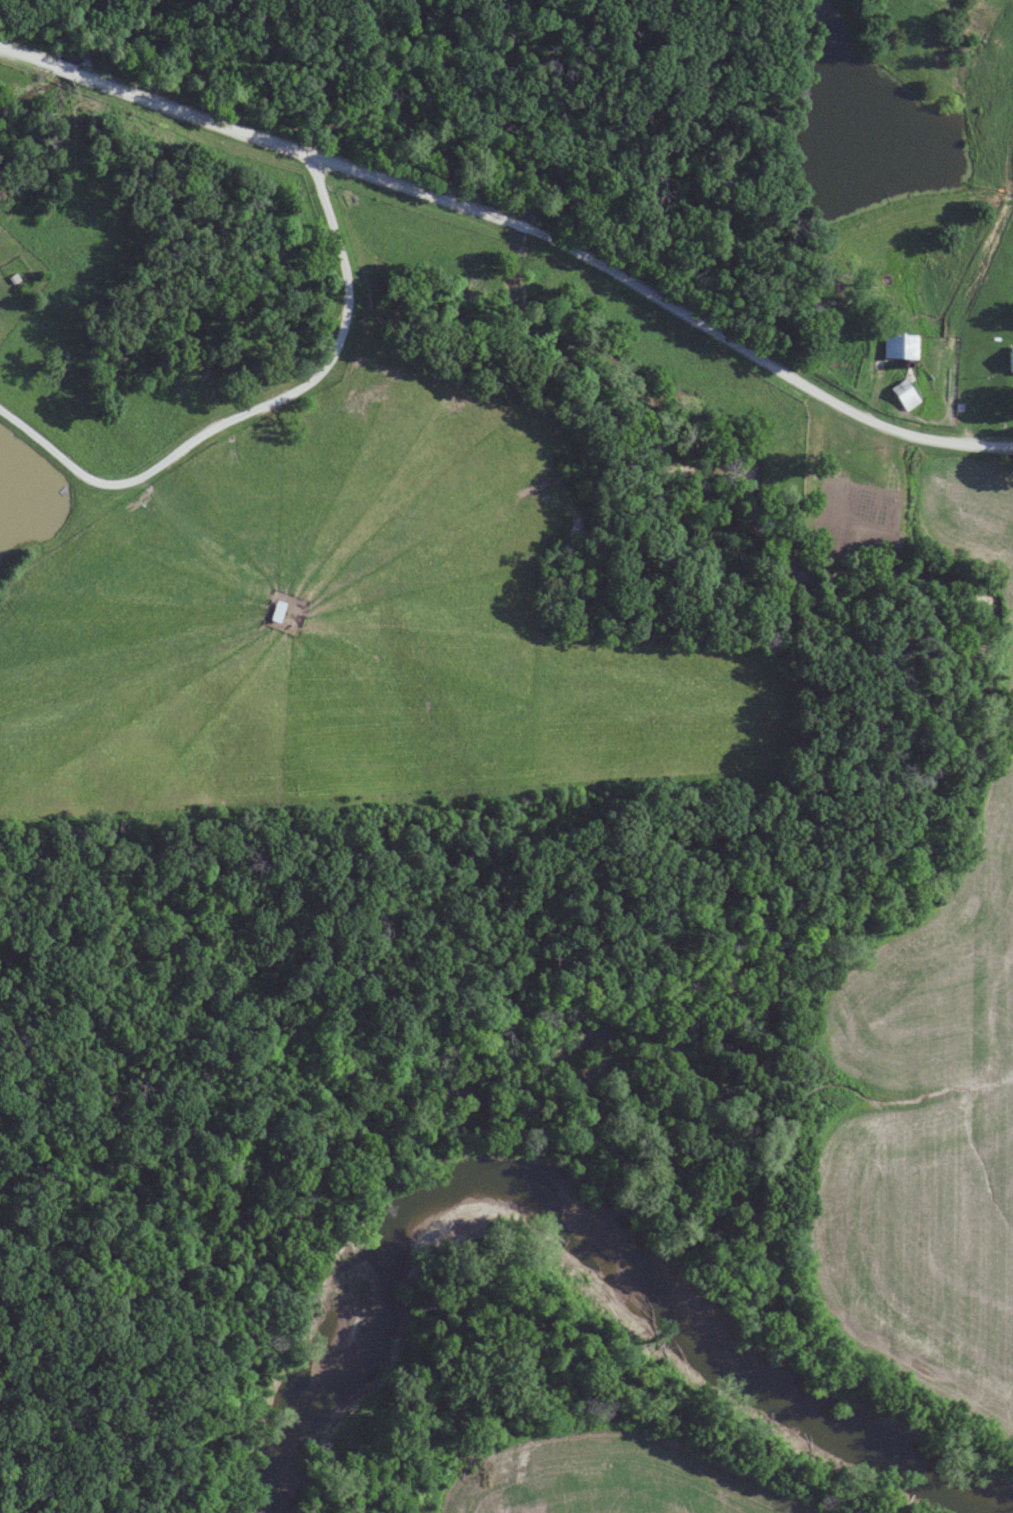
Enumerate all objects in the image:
road: (524, 244)
building: (901, 346)
building: (1011, 360)
building: (906, 394)
building: (278, 611)
river: (586, 1224)

